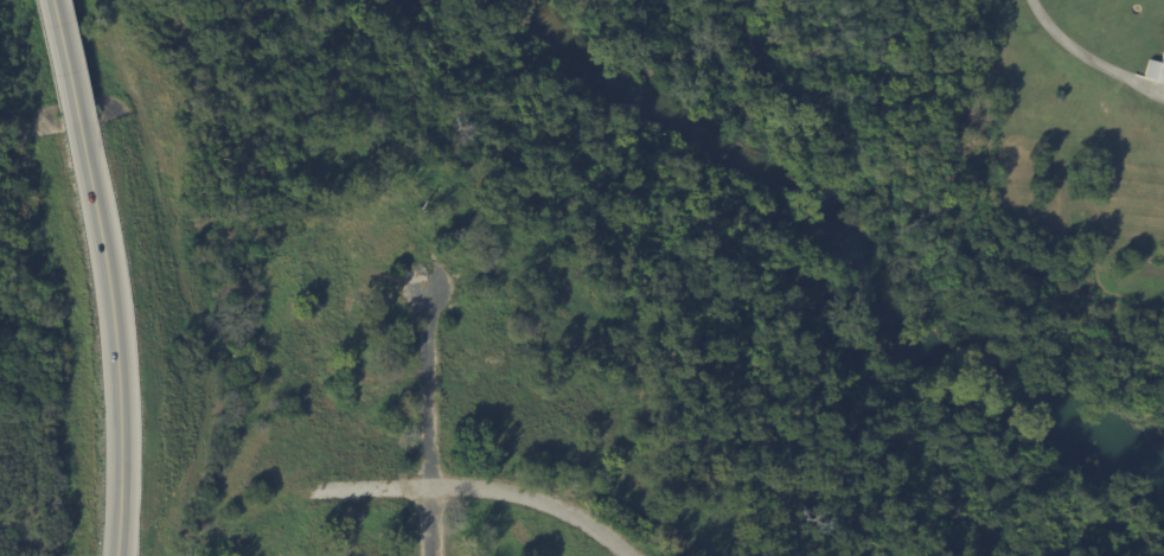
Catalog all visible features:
road: (1089, 57)
road: (68, 69)
building: (1155, 70)
river: (833, 242)
airport: (27, 322)
road: (114, 345)
road: (428, 420)
road: (482, 490)

